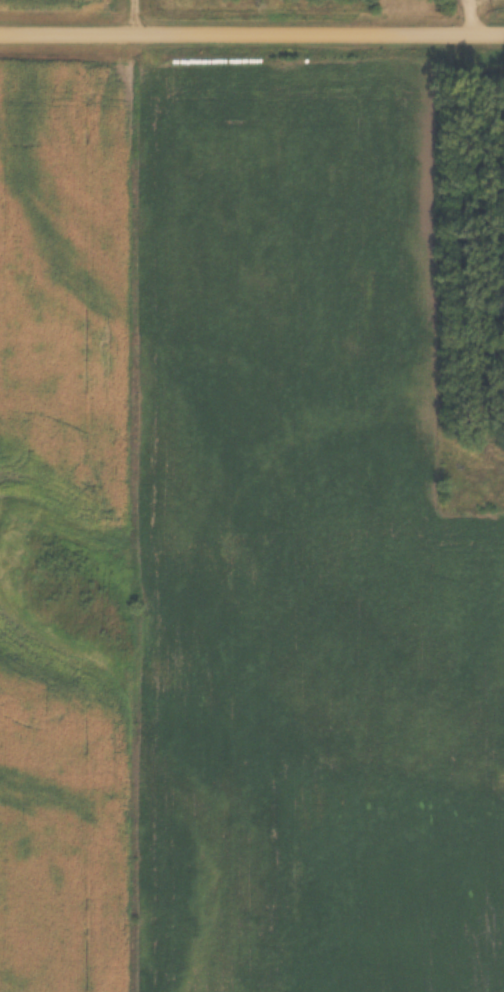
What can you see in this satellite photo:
road: (252, 34)

